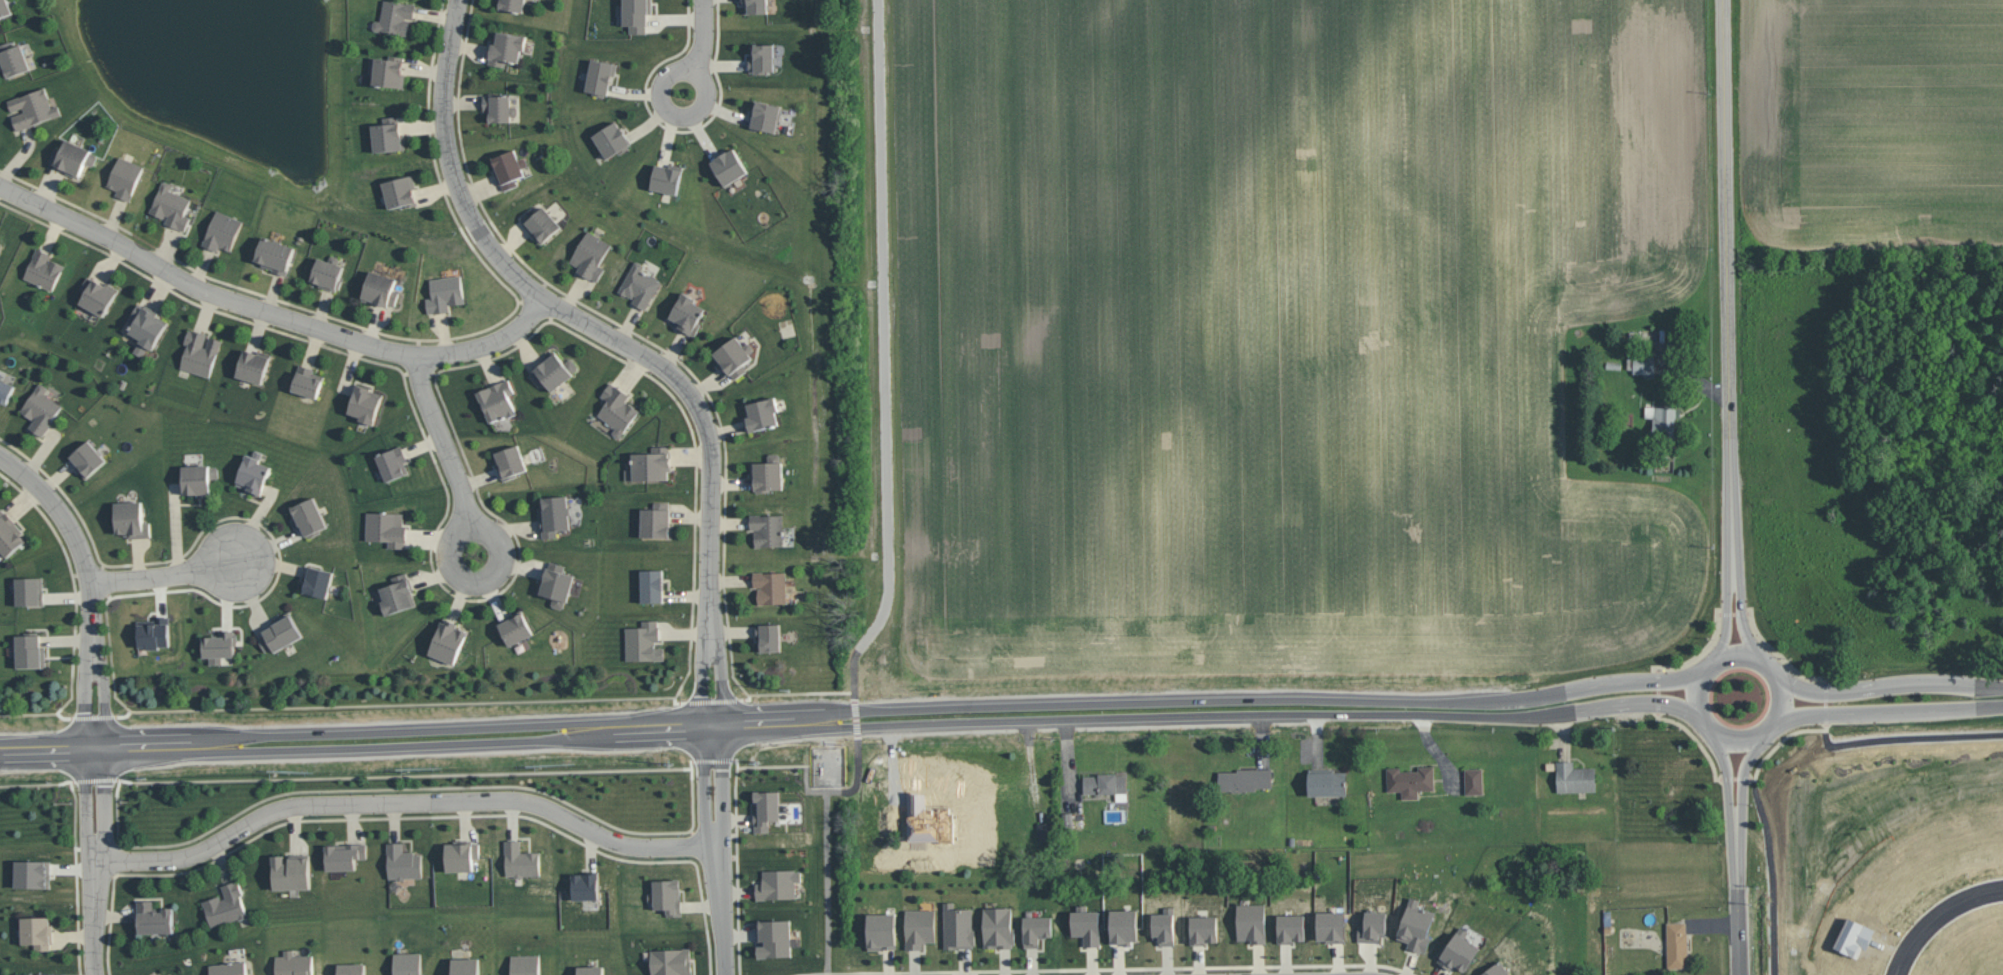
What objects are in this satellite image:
building: (512, 5)
building: (755, 6)
building: (4, 9)
building: (636, 14)
building: (395, 17)
road: (704, 32)
building: (506, 48)
building: (761, 58)
building: (12, 59)
building: (389, 71)
building: (600, 77)
road: (663, 93)
building: (498, 107)
building: (32, 108)
building: (765, 115)
building: (388, 135)
building: (612, 139)
building: (72, 157)
building: (728, 166)
building: (508, 168)
building: (125, 177)
building: (667, 178)
building: (400, 191)
building: (171, 206)
building: (540, 224)
building: (222, 231)
building: (274, 254)
building: (590, 255)
building: (43, 269)
building: (328, 272)
road: (1728, 282)
building: (639, 285)
building: (380, 289)
building: (445, 293)
building: (97, 295)
road: (270, 313)
building: (686, 314)
building: (146, 327)
road: (624, 344)
road: (884, 351)
building: (200, 352)
building: (733, 356)
building: (1644, 364)
building: (253, 365)
building: (553, 371)
building: (307, 381)
building: (5, 390)
building: (497, 400)
building: (365, 404)
building: (40, 409)
building: (617, 409)
building: (761, 413)
building: (1662, 420)
road: (445, 440)
building: (87, 459)
building: (509, 461)
building: (393, 463)
building: (650, 464)
building: (253, 473)
building: (768, 474)
building: (198, 478)
building: (554, 515)
building: (308, 516)
building: (131, 519)
road: (468, 520)
building: (656, 520)
building: (387, 528)
building: (767, 529)
building: (9, 534)
road: (161, 575)
building: (317, 581)
building: (556, 584)
building: (651, 585)
building: (770, 586)
road: (87, 587)
building: (30, 591)
building: (397, 594)
road: (1743, 604)
road: (1729, 605)
building: (515, 628)
building: (280, 633)
building: (768, 636)
building: (448, 641)
building: (643, 641)
building: (219, 645)
building: (30, 651)
road: (1700, 653)
road: (1782, 656)
road: (1614, 681)
road: (1894, 684)
road: (783, 692)
road: (1618, 704)
road: (805, 710)
road: (1894, 710)
road: (769, 729)
road: (1908, 737)
road: (1696, 738)
road: (1783, 739)
road: (1741, 744)
road: (805, 746)
building: (1575, 777)
building: (1244, 779)
building: (1410, 781)
building: (1473, 781)
building: (1327, 783)
building: (1106, 785)
road: (725, 788)
road: (702, 789)
road: (405, 800)
road: (1731, 804)
road: (1741, 804)
building: (766, 809)
building: (1044, 831)
building: (344, 855)
building: (461, 856)
road: (827, 859)
building: (521, 860)
road: (96, 862)
building: (402, 862)
building: (291, 871)
building: (32, 873)
road: (1774, 875)
building: (778, 883)
building: (585, 885)
building: (667, 896)
building: (225, 905)
road: (722, 909)
building: (154, 918)
building: (1252, 922)
road: (1739, 922)
road: (1943, 922)
building: (1086, 925)
building: (1124, 926)
building: (1164, 926)
building: (1331, 926)
building: (1373, 926)
building: (1416, 926)
building: (919, 927)
building: (958, 927)
building: (998, 927)
building: (1291, 928)
building: (1204, 929)
building: (1036, 930)
building: (881, 931)
building: (37, 932)
building: (774, 938)
building: (1677, 944)
building: (1458, 951)
building: (671, 962)
building: (407, 963)
building: (293, 964)
building: (525, 964)
building: (465, 966)
building: (228, 968)
building: (351, 968)
building: (590, 970)
building: (1496, 970)
building: (37, 974)

